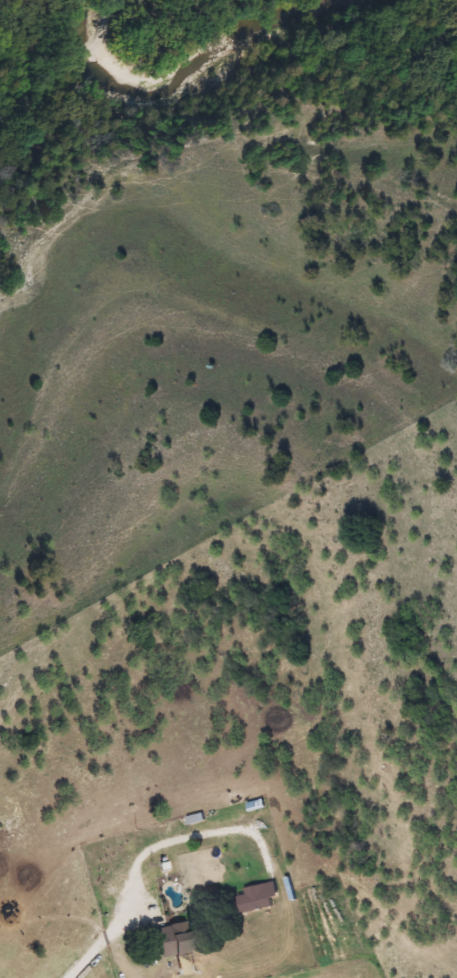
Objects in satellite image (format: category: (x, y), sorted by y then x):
building: (260, 897)
road: (105, 936)
building: (177, 943)

